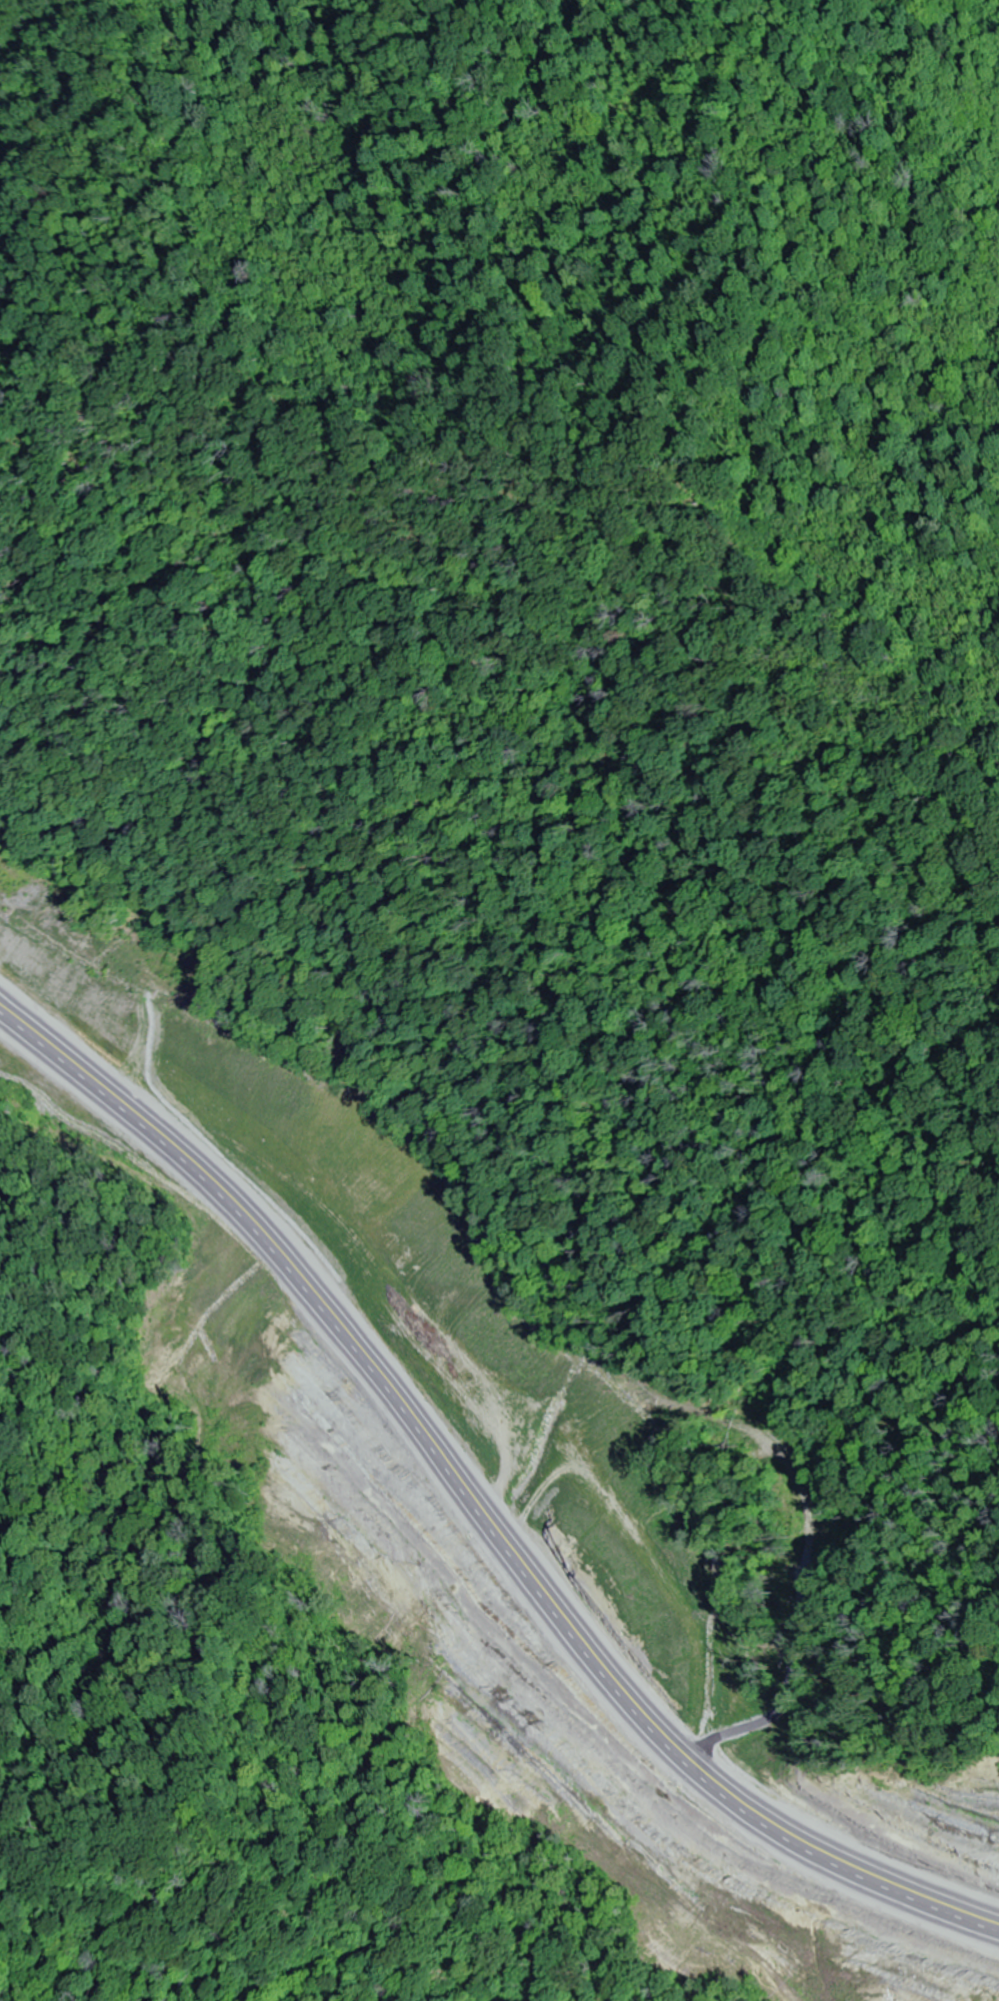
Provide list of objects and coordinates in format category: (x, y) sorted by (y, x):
road: (468, 1518)

